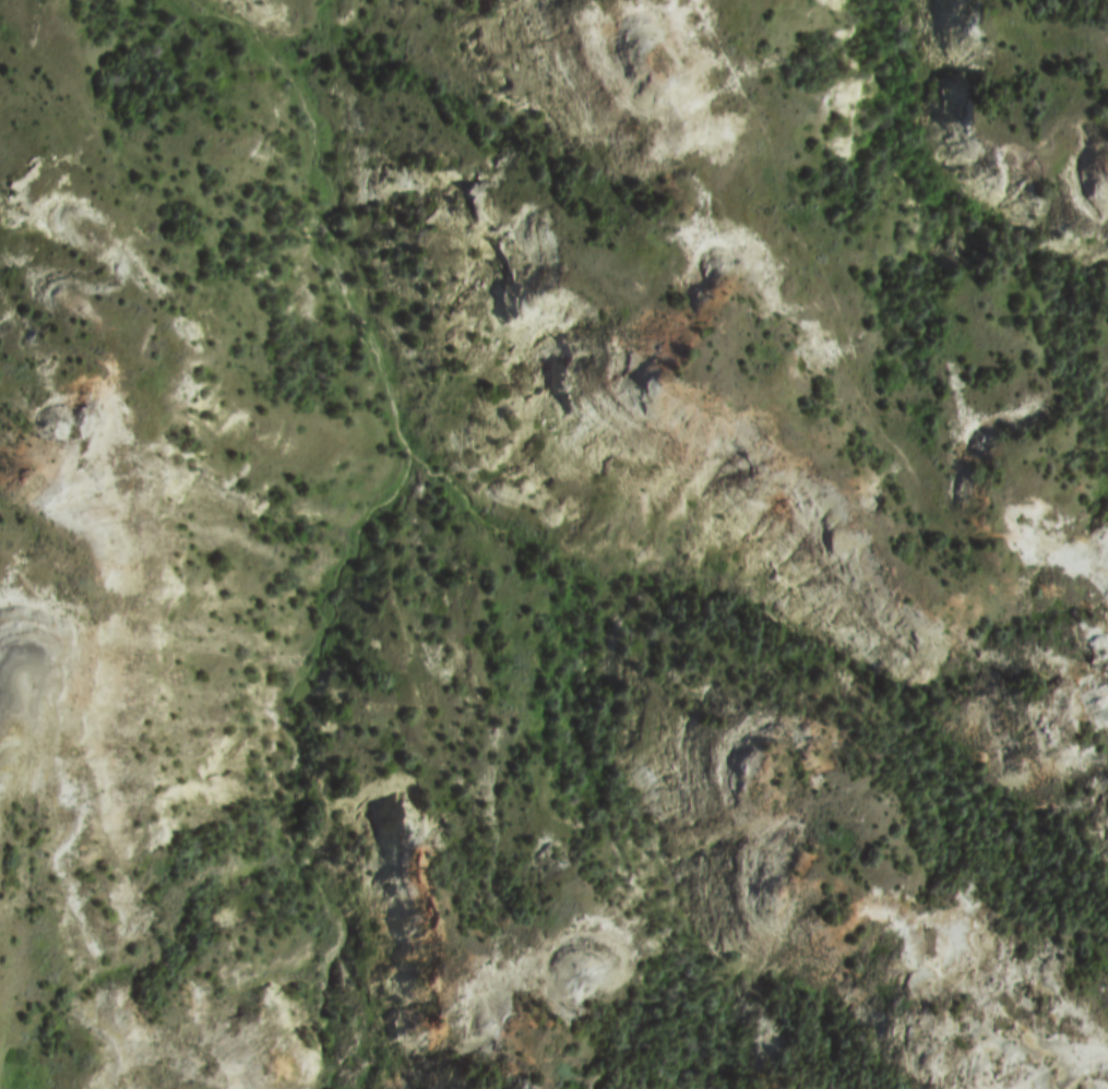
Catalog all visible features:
road: (1058, 1065)

